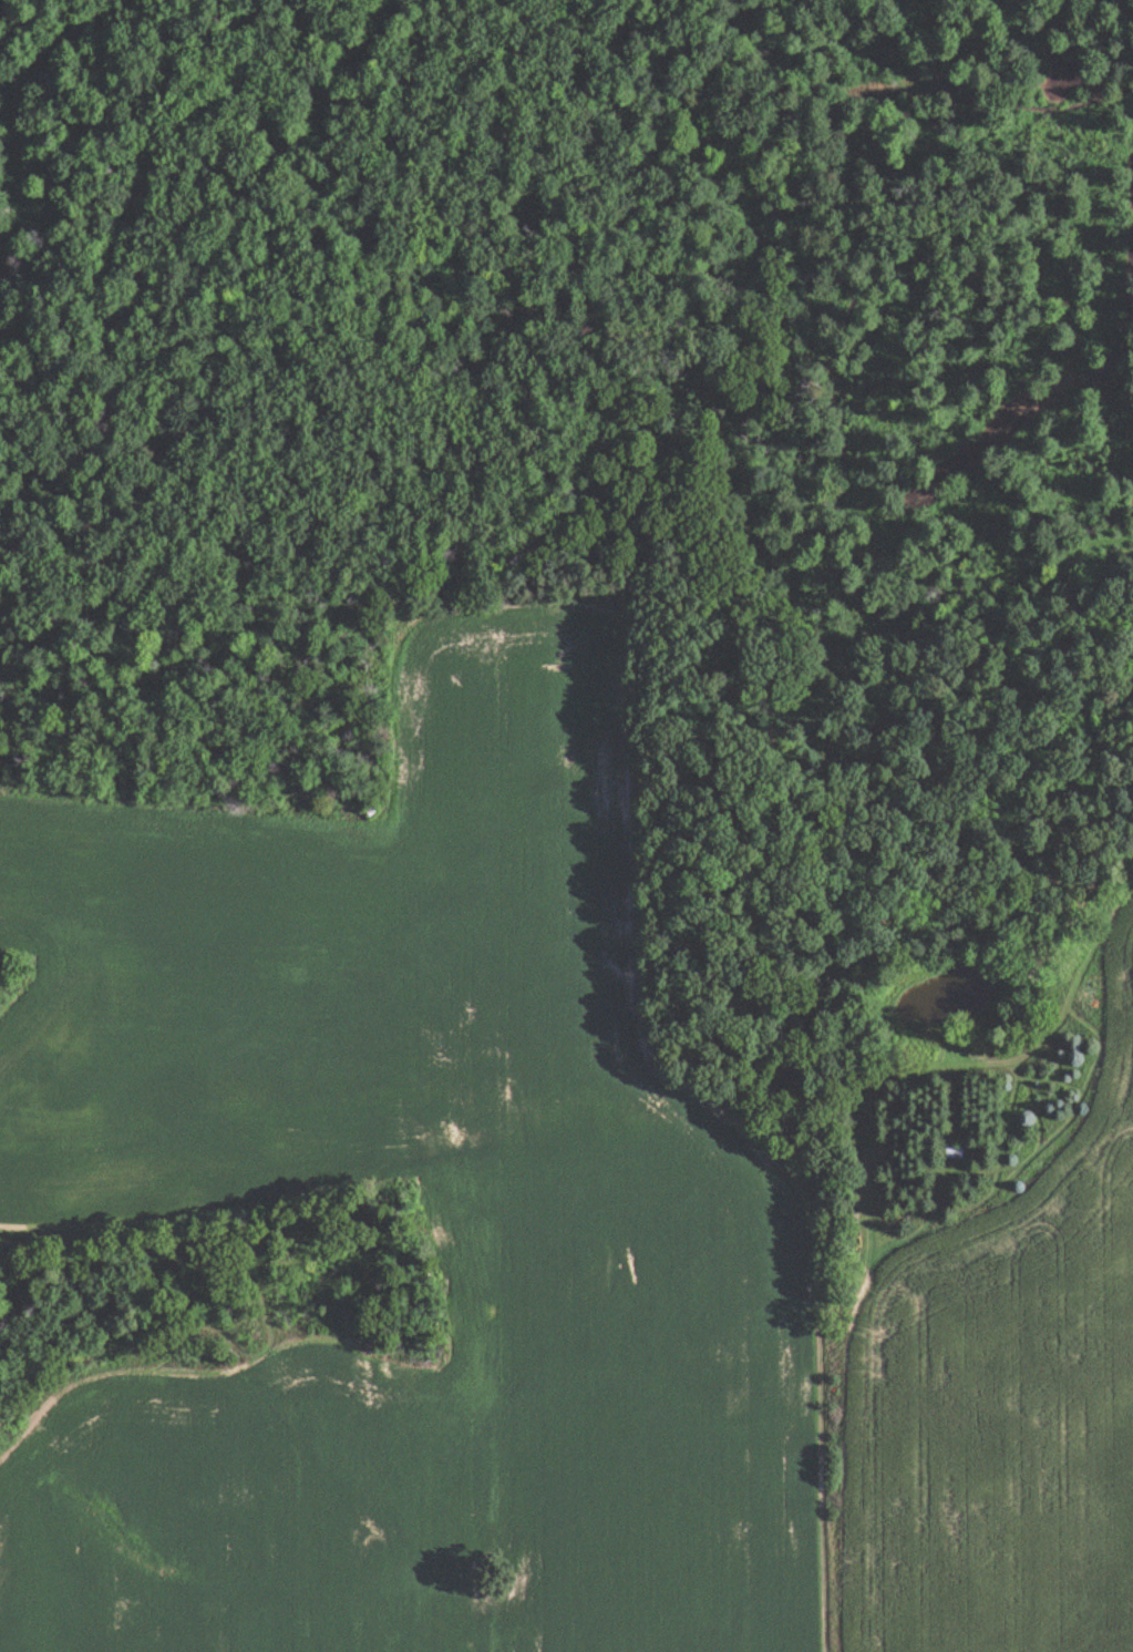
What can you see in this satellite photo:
building: (961, 1152)

